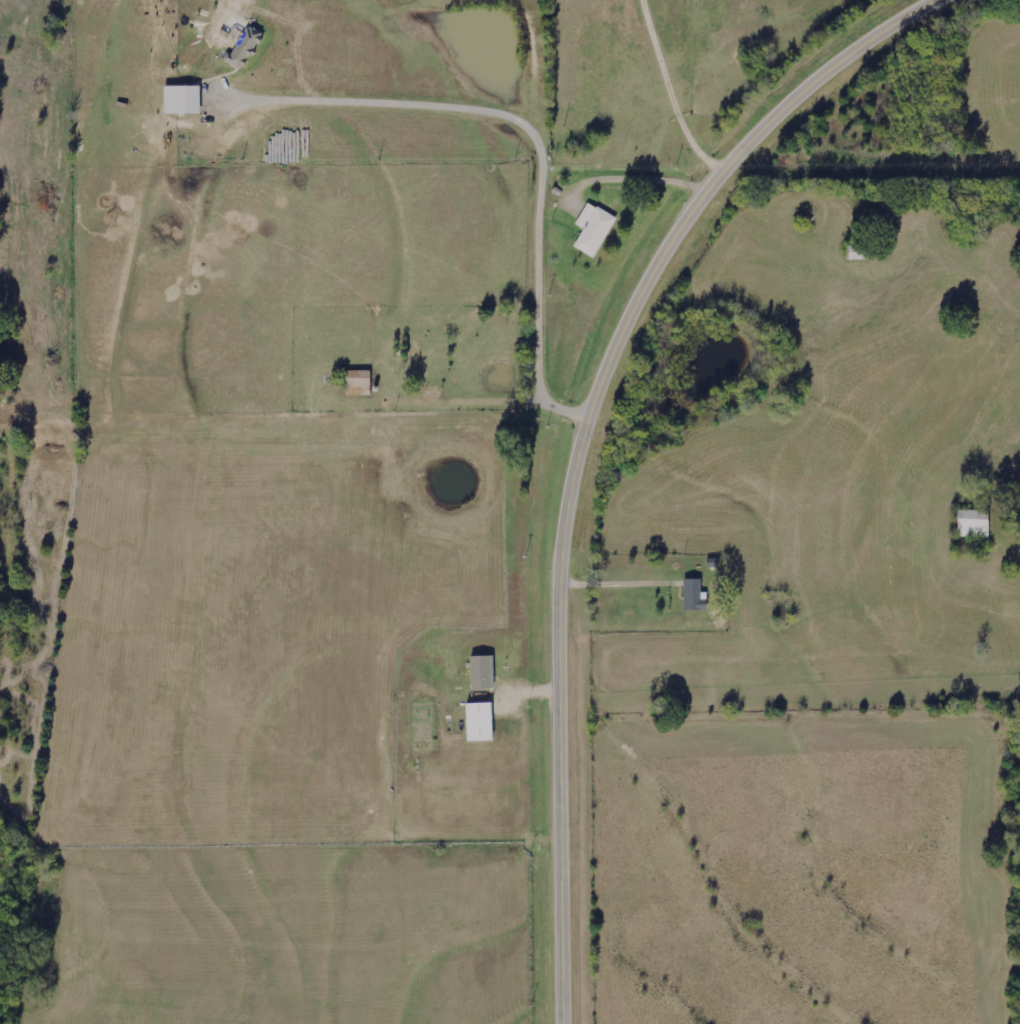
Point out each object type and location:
building: (244, 47)
road: (672, 92)
building: (182, 99)
building: (593, 229)
building: (358, 382)
road: (577, 438)
building: (974, 523)
road: (613, 584)
building: (694, 595)
building: (482, 673)
building: (479, 722)

